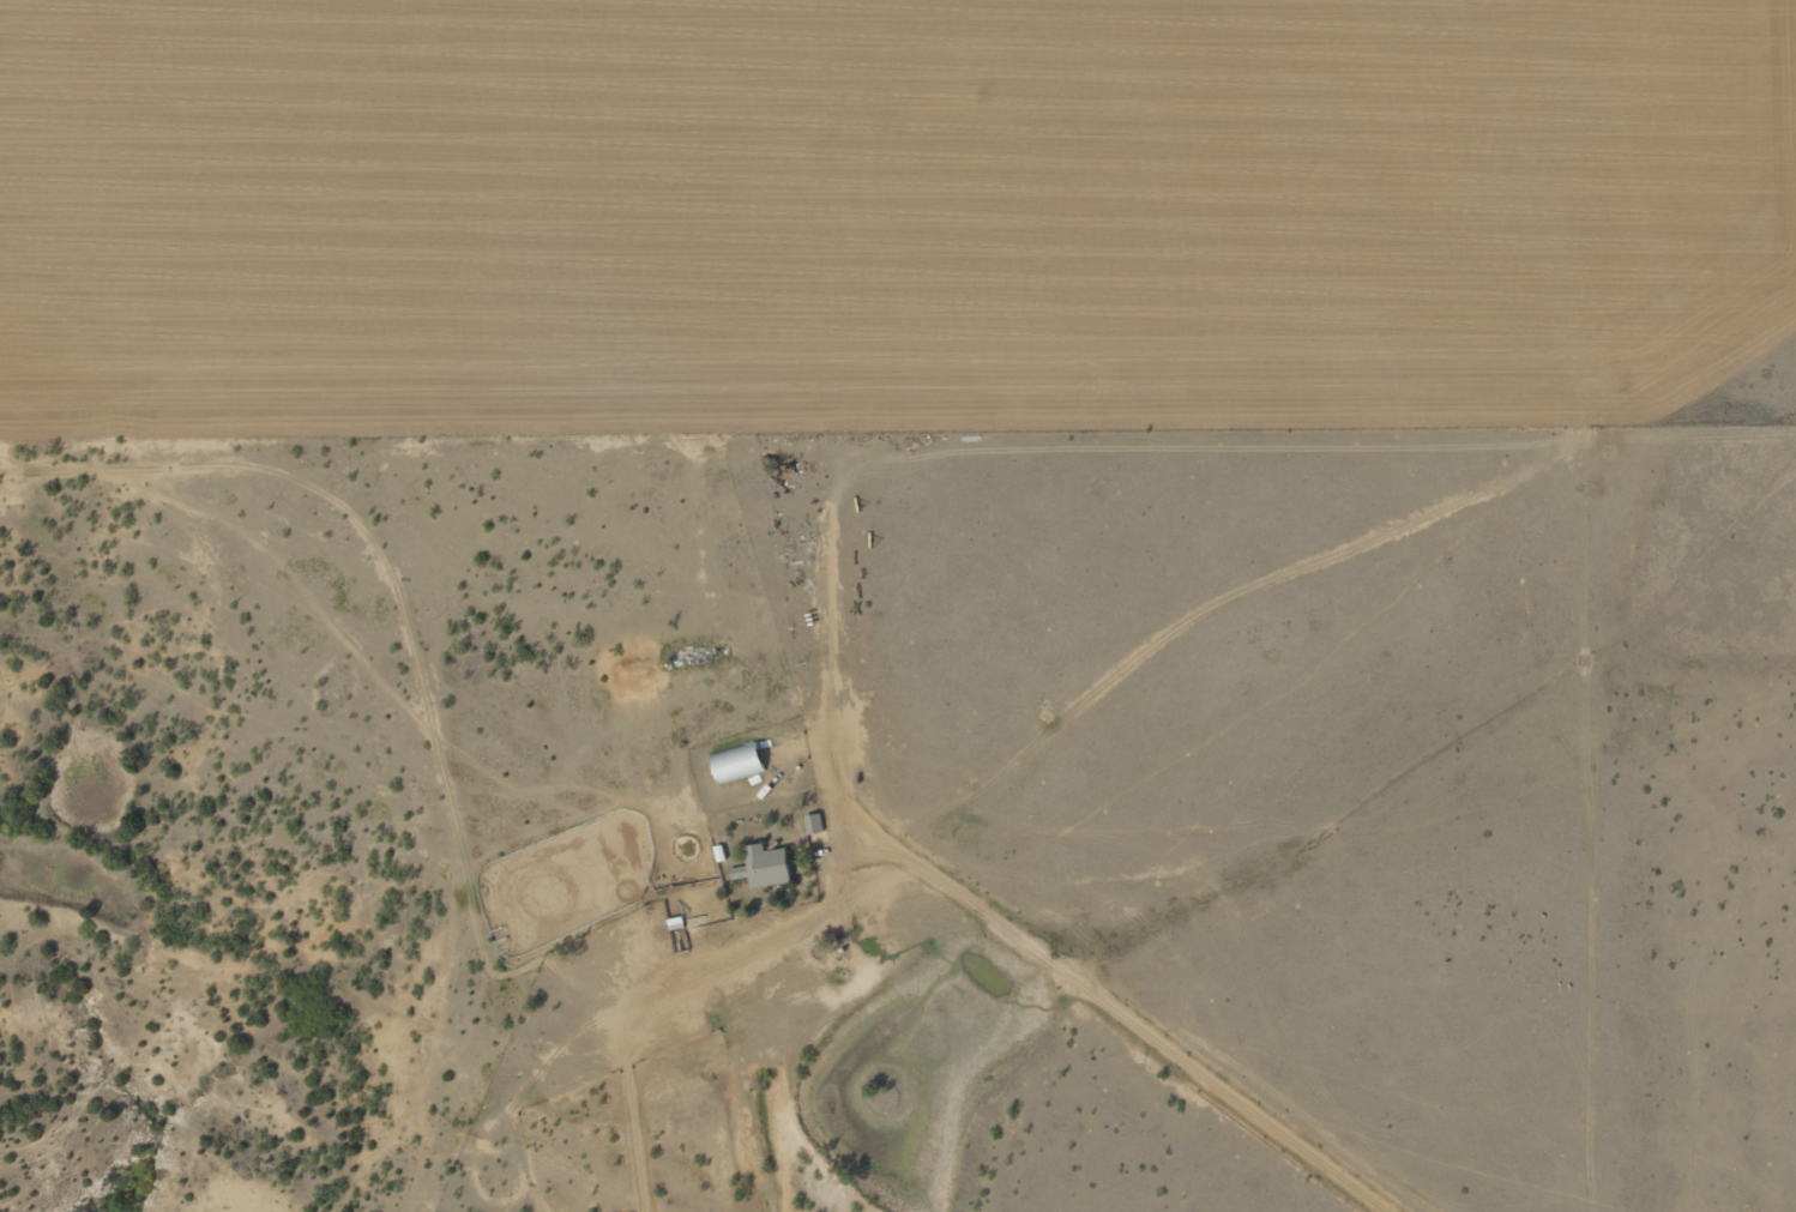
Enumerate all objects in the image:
building: (812, 824)
building: (760, 867)
road: (1116, 1011)

